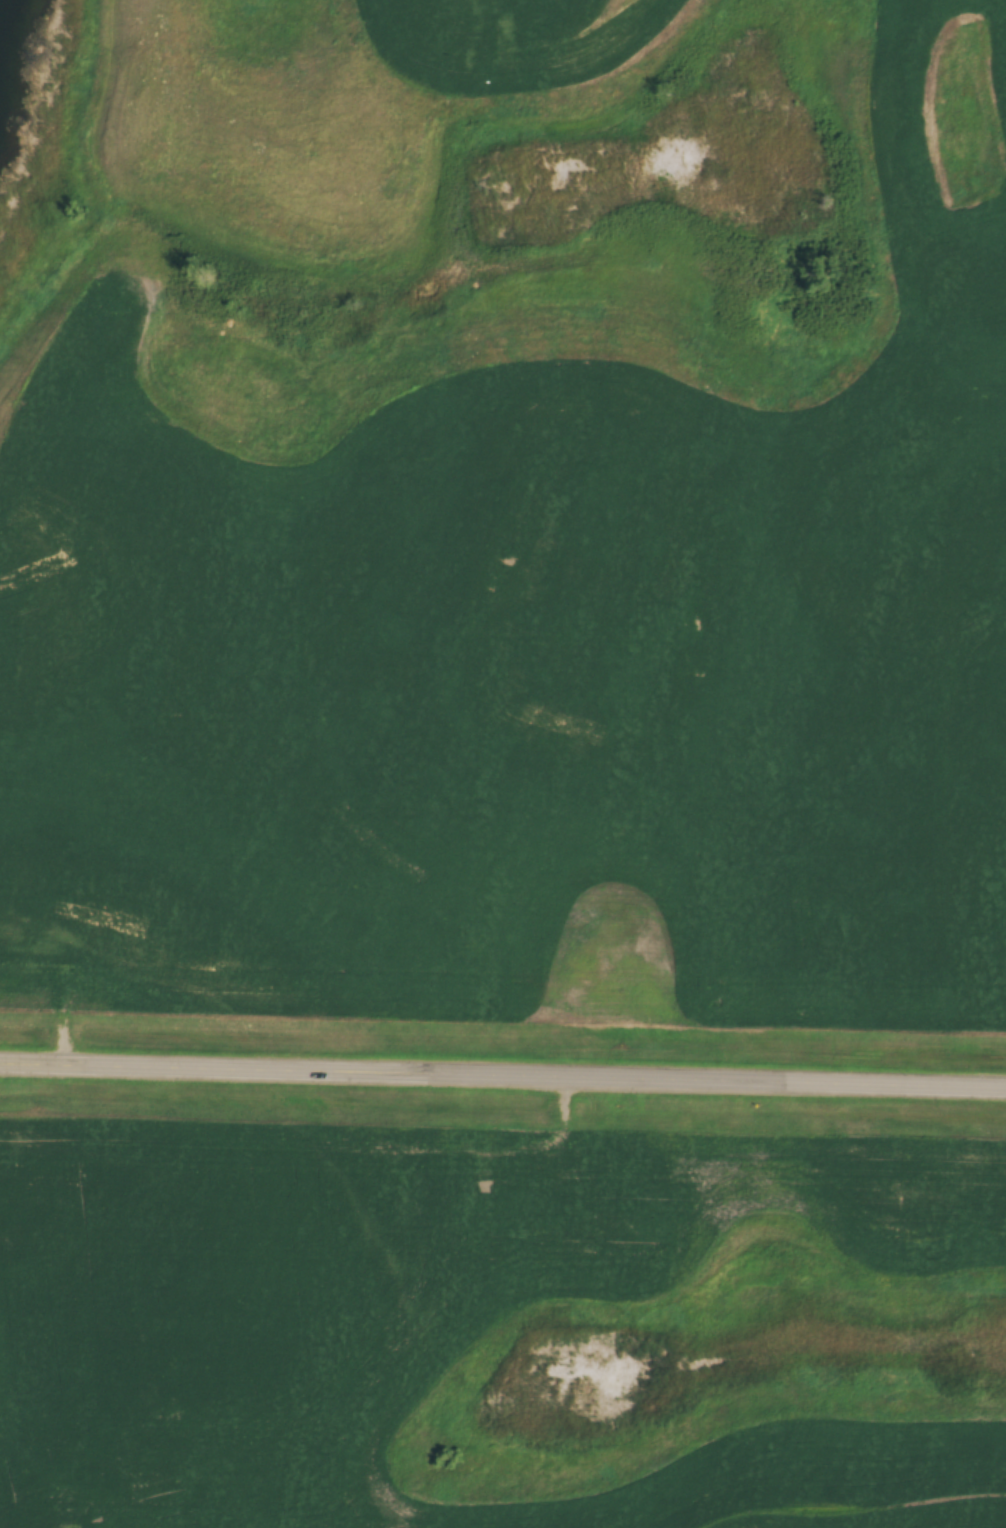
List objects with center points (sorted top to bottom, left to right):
road: (503, 1059)

